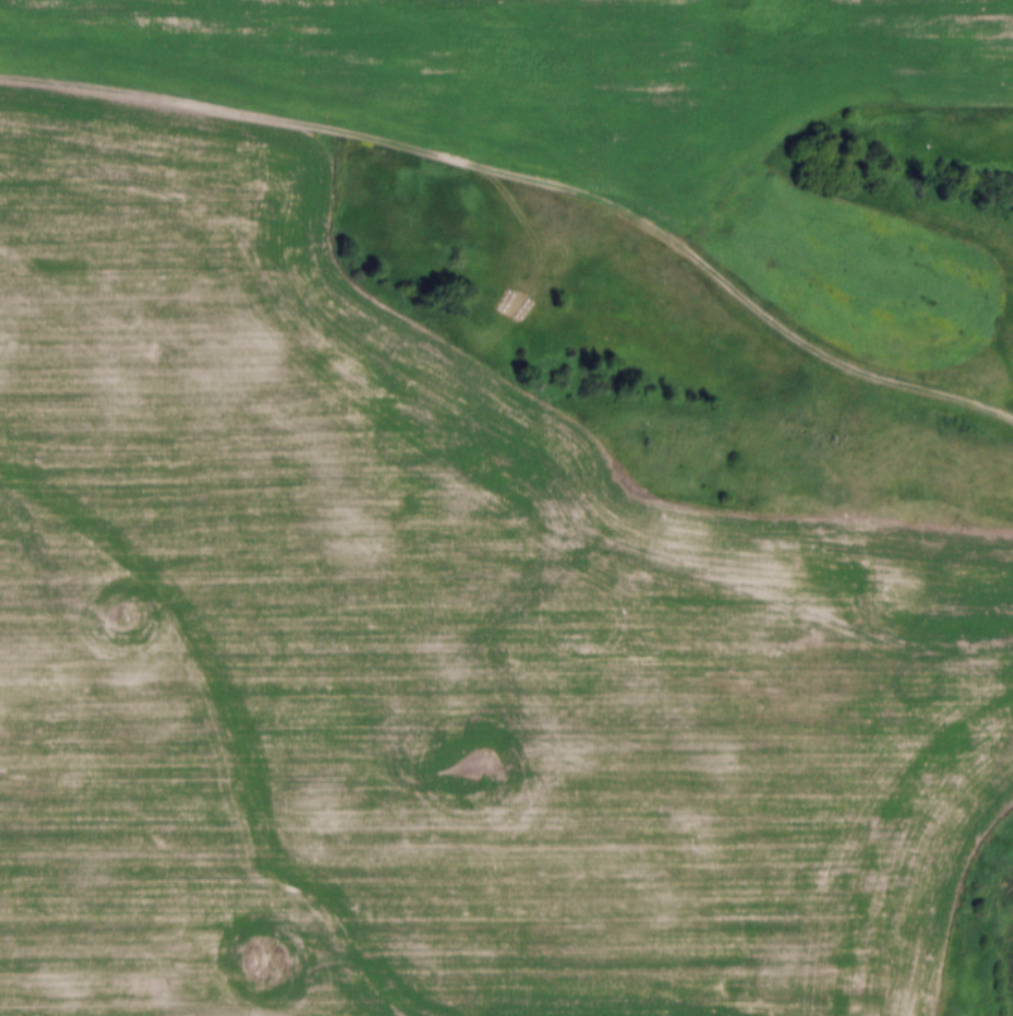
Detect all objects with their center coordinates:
road: (532, 174)

